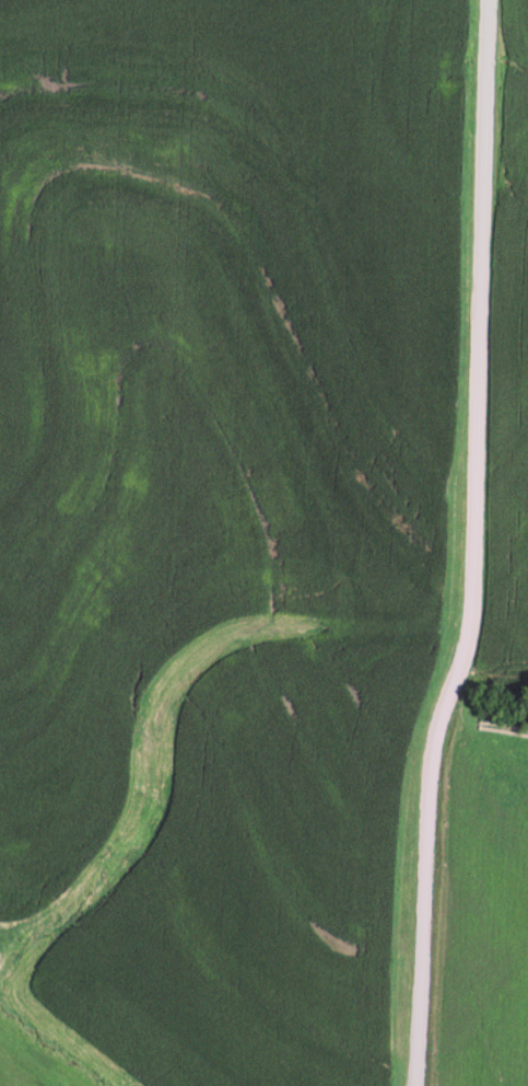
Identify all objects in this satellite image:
road: (468, 545)

